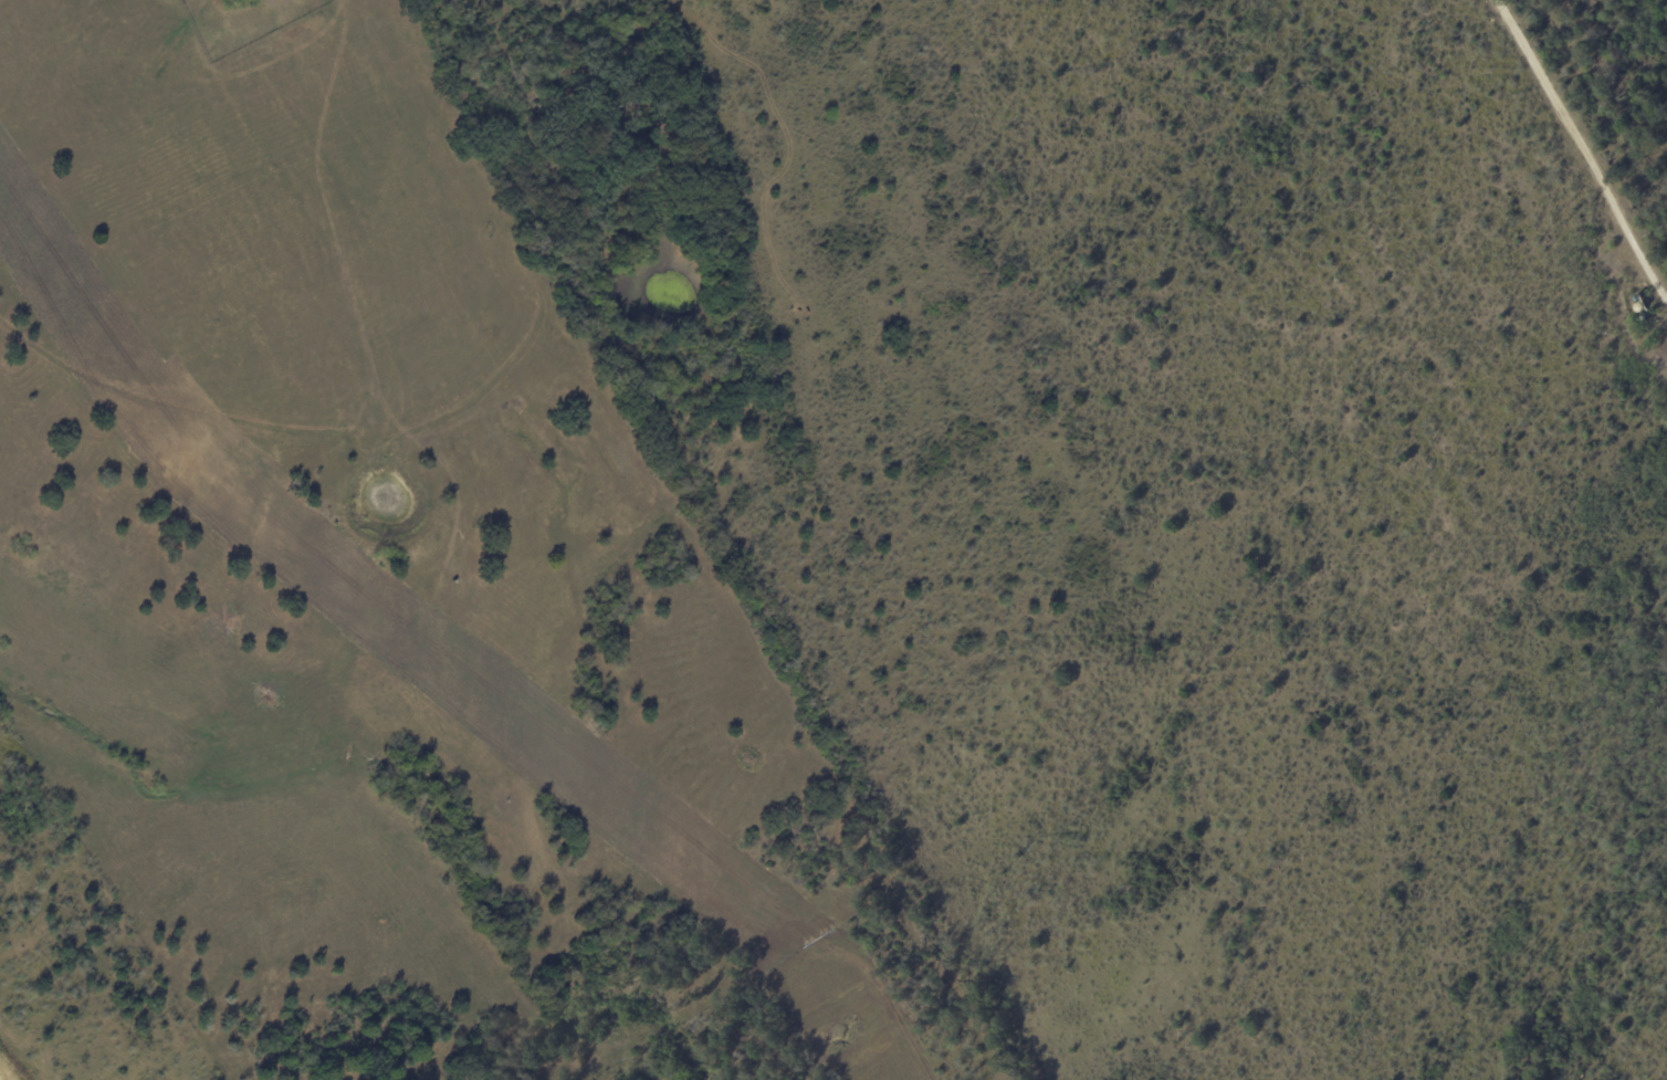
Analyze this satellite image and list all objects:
road: (1585, 138)

